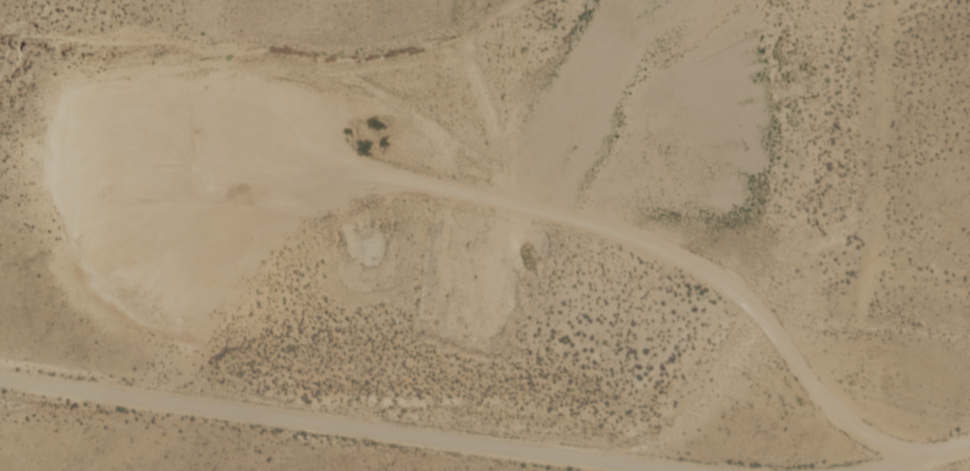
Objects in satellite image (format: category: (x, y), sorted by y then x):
quarry: (454, 207)
road: (365, 424)
road: (905, 449)

